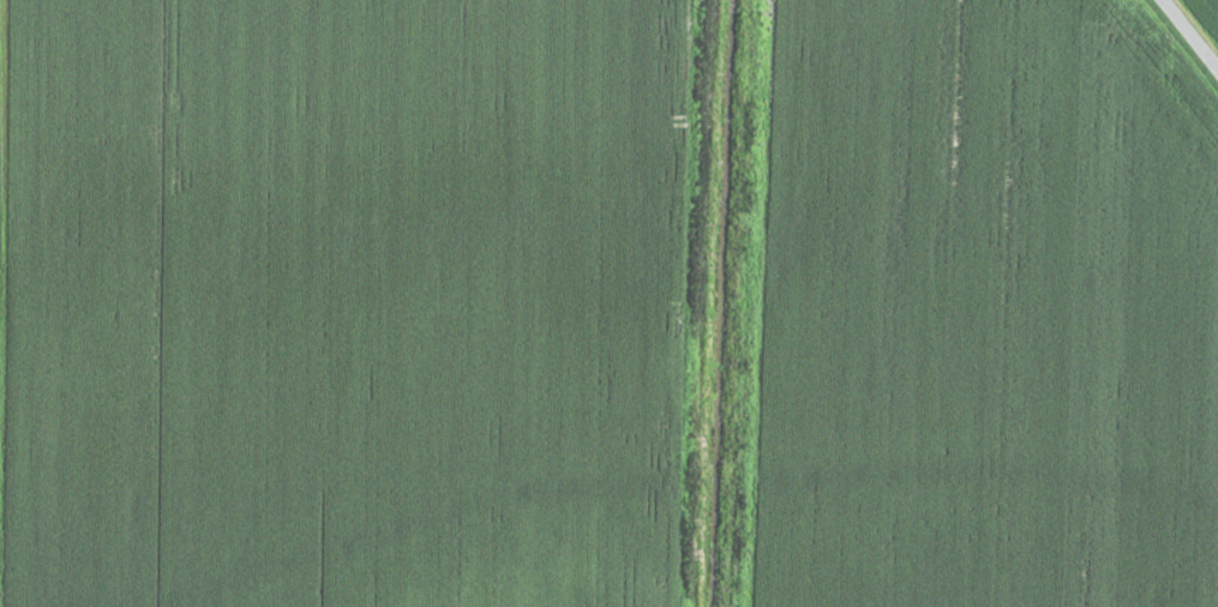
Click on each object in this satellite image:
road: (1188, 37)

